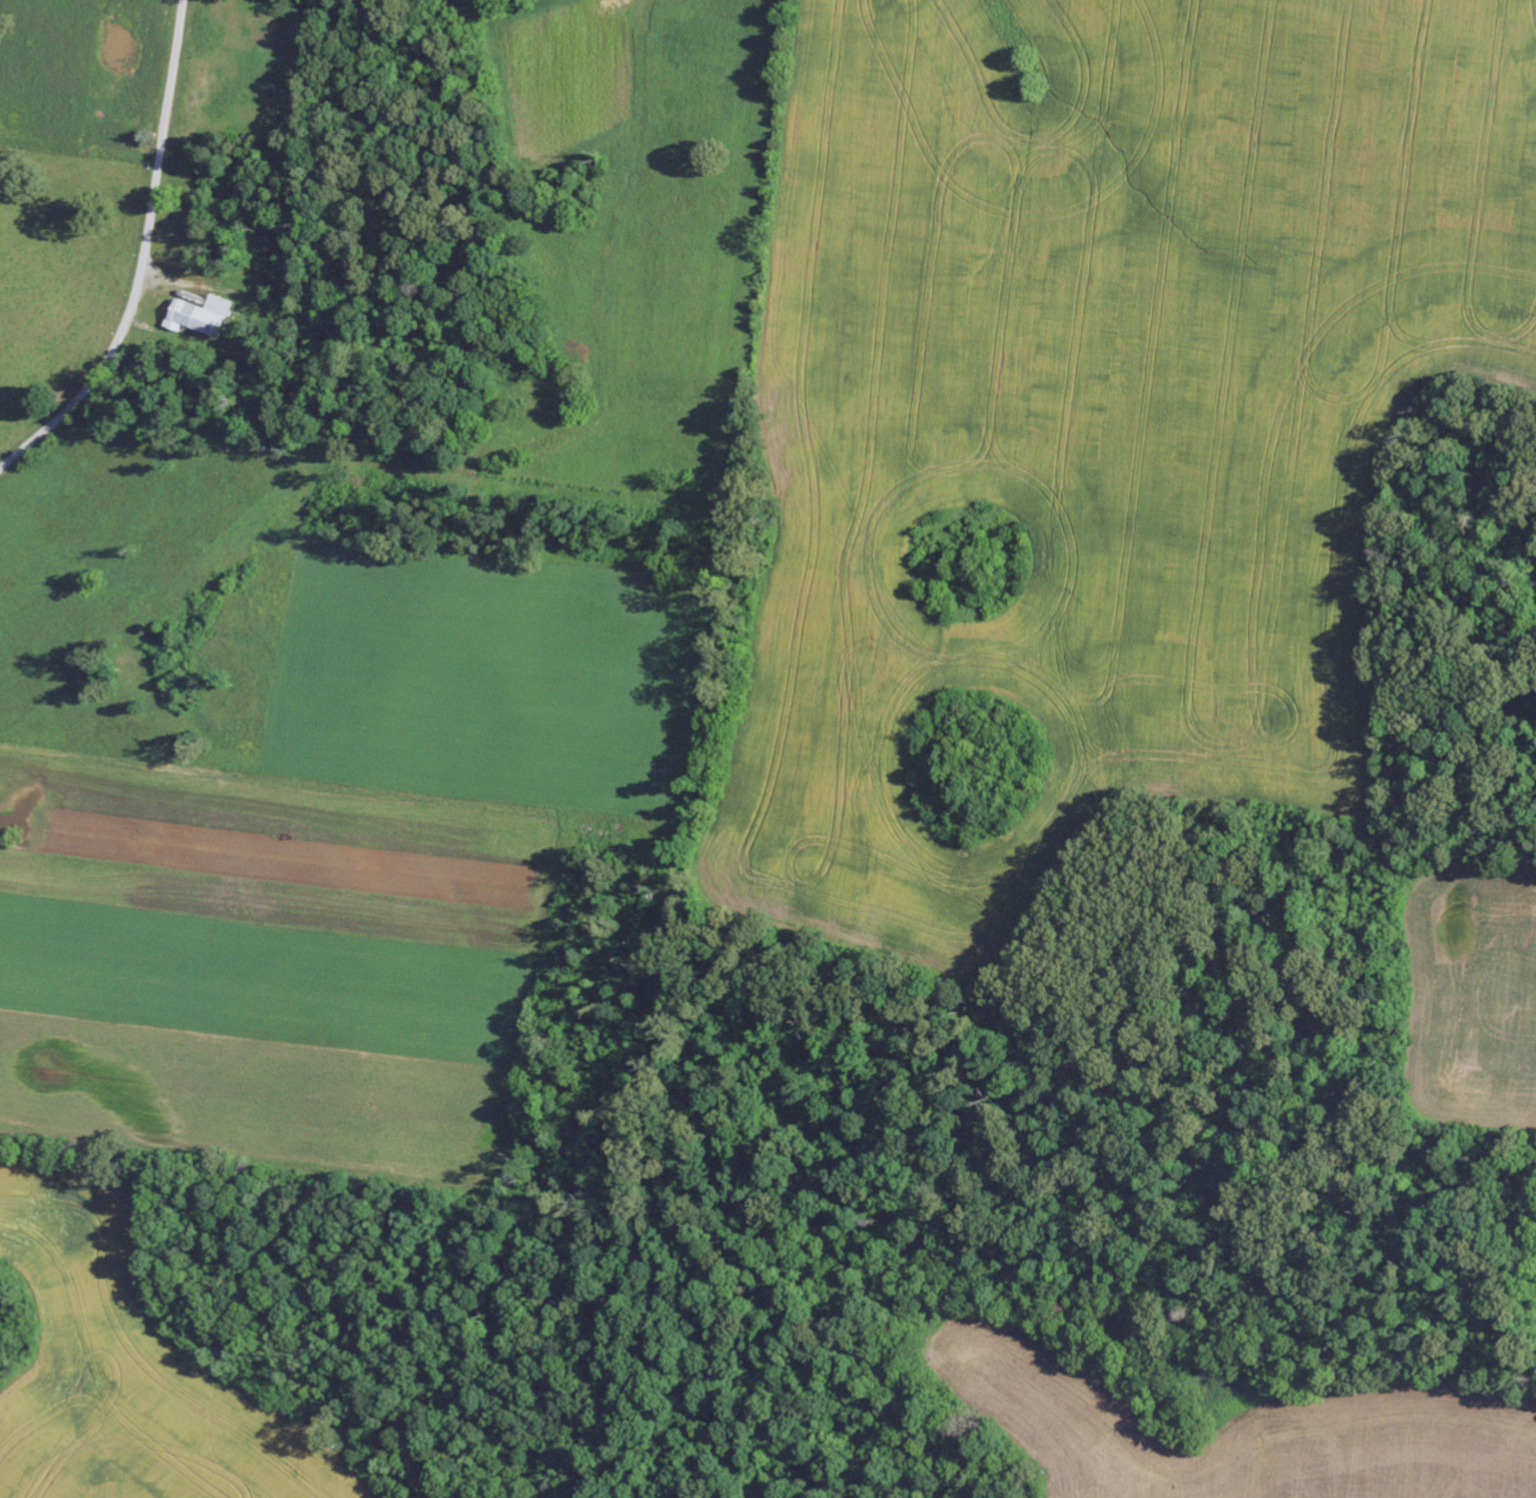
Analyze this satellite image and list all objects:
road: (141, 257)
building: (202, 317)
road: (1100, 824)
road: (755, 1276)

